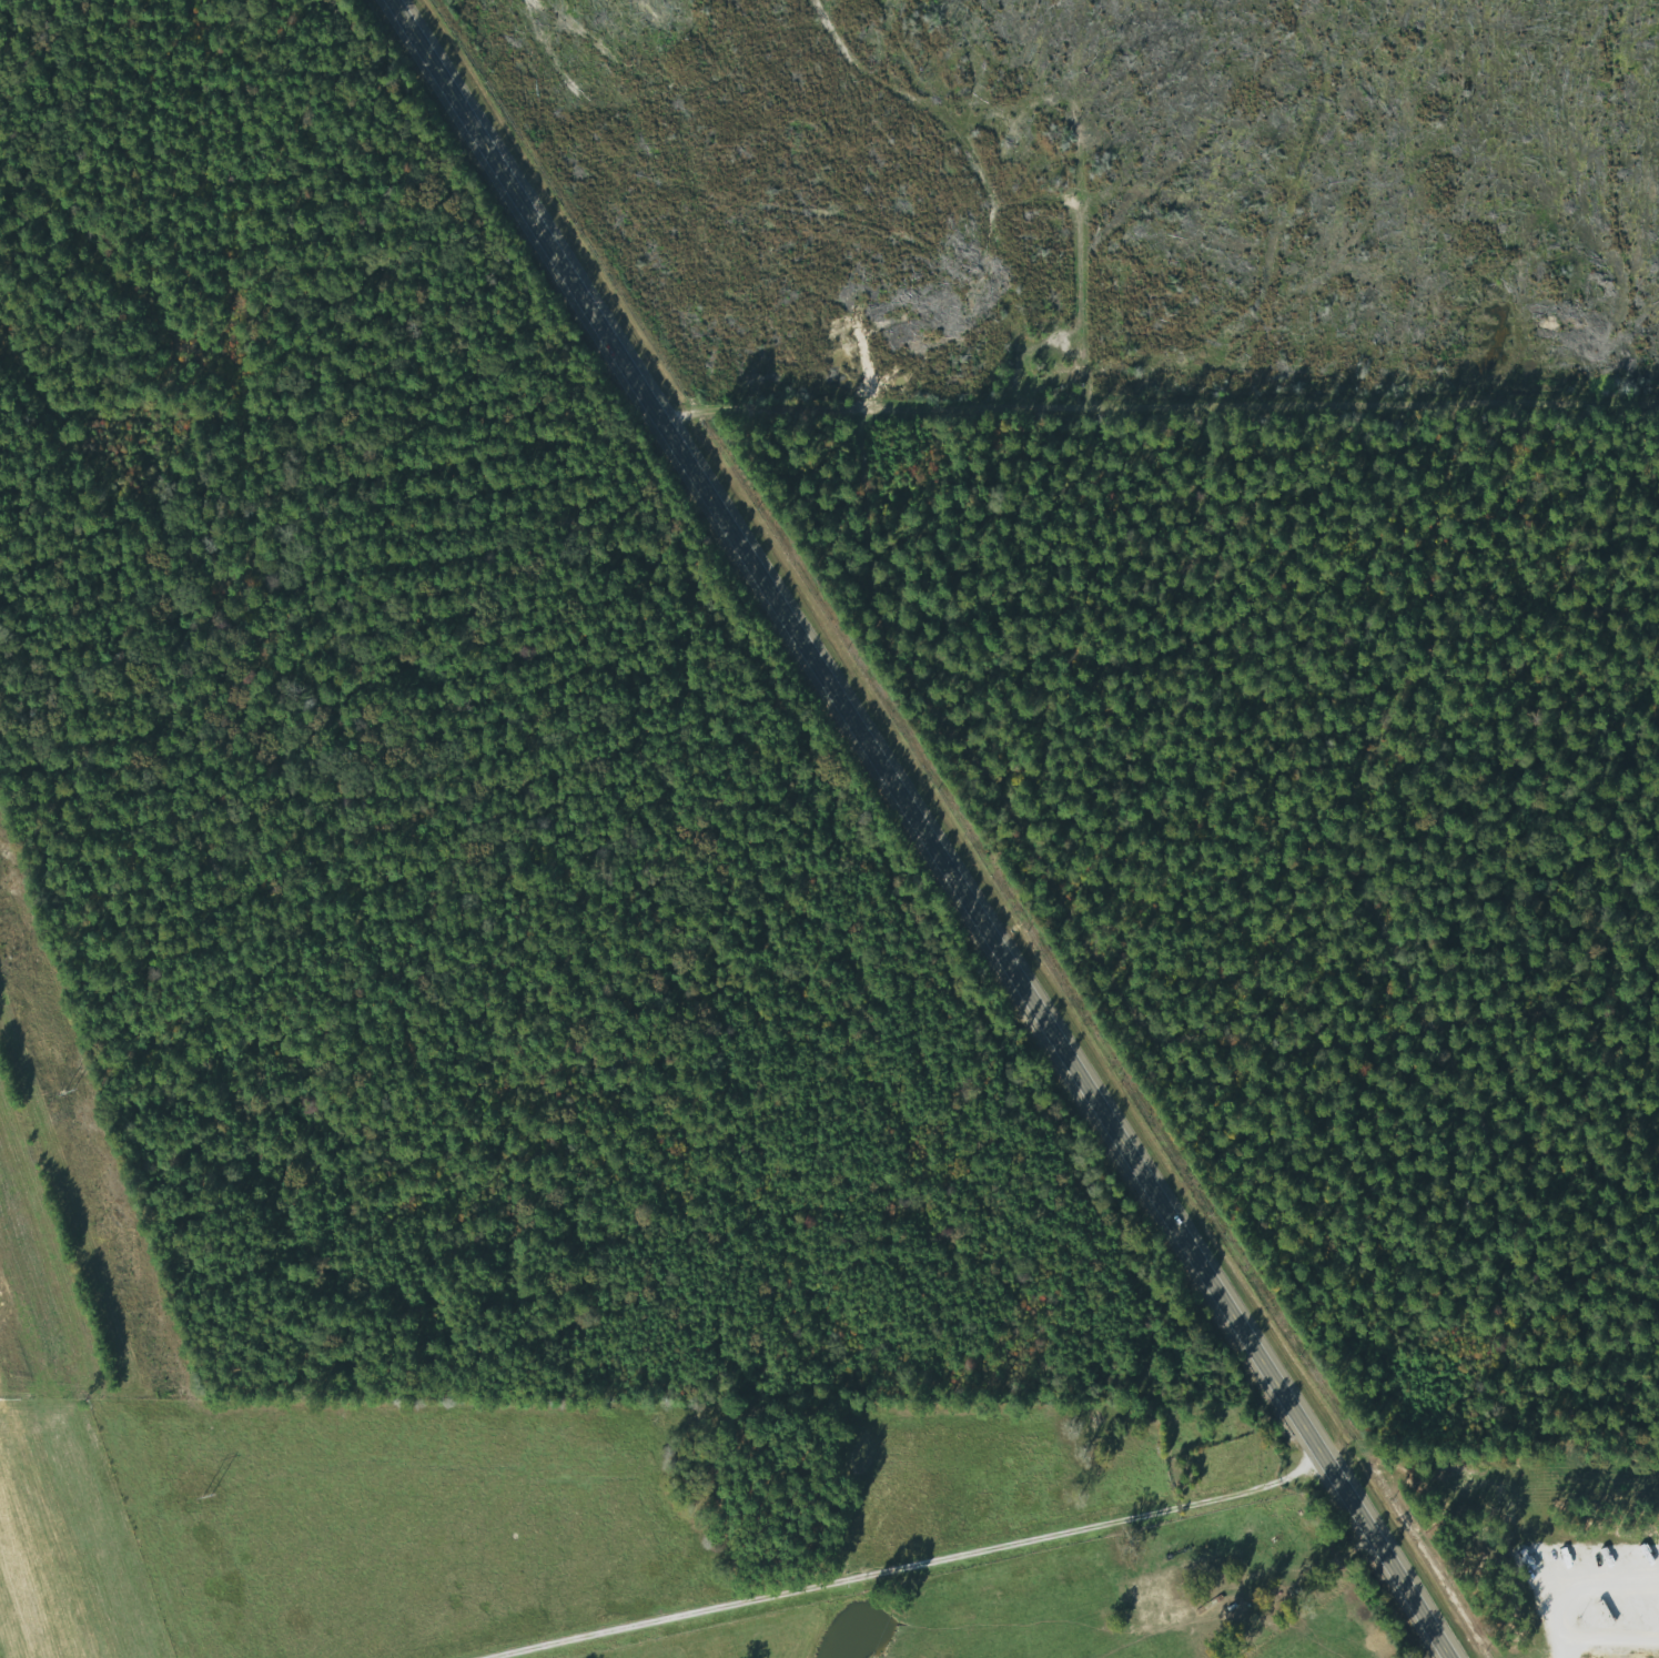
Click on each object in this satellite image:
road: (1159, 414)
road: (917, 830)
power tower: (67, 1095)
power tower: (208, 1496)
road: (903, 1566)

